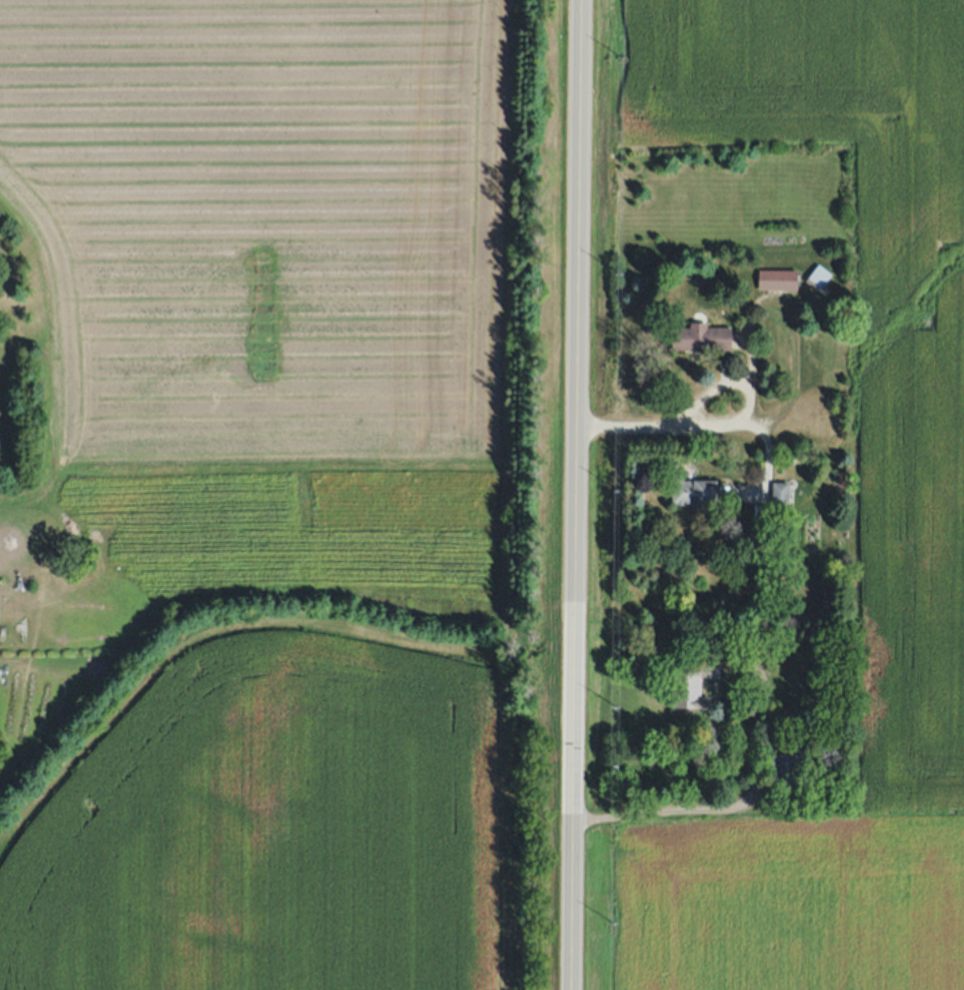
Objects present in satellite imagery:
building: (818, 277)
building: (777, 279)
building: (701, 337)
road: (691, 419)
building: (692, 490)
building: (779, 493)
road: (573, 494)
building: (693, 681)
building: (789, 770)
road: (733, 802)

